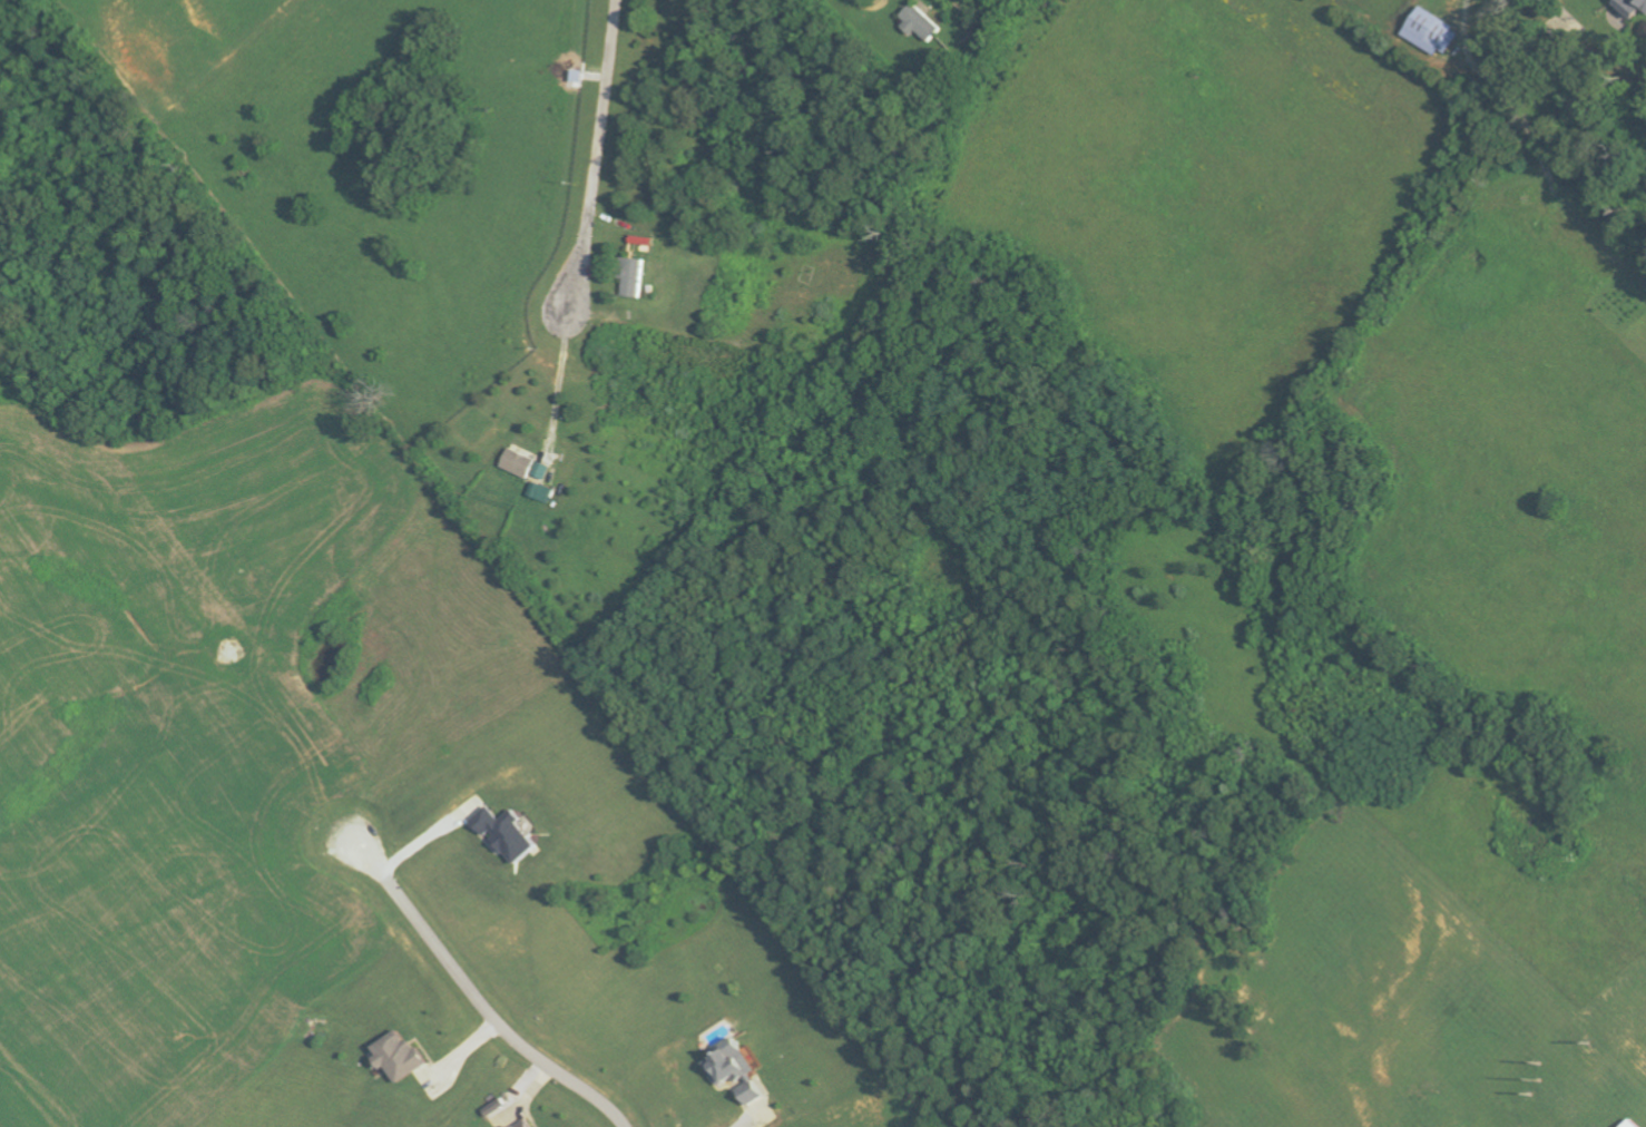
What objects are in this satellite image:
building: (1632, 6)
building: (921, 21)
building: (1432, 31)
road: (600, 154)
building: (644, 241)
building: (634, 275)
road: (561, 378)
building: (526, 464)
building: (542, 491)
building: (507, 833)
road: (427, 839)
road: (481, 1003)
building: (399, 1056)
building: (736, 1071)
building: (527, 1124)
building: (1634, 1124)
road: (747, 1126)

